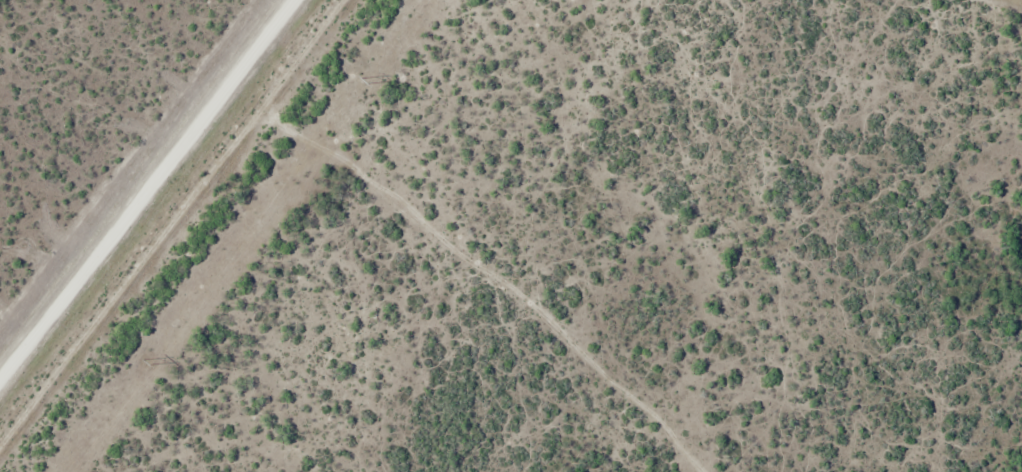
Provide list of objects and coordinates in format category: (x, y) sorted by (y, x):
power tower: (366, 80)
power tower: (147, 362)

